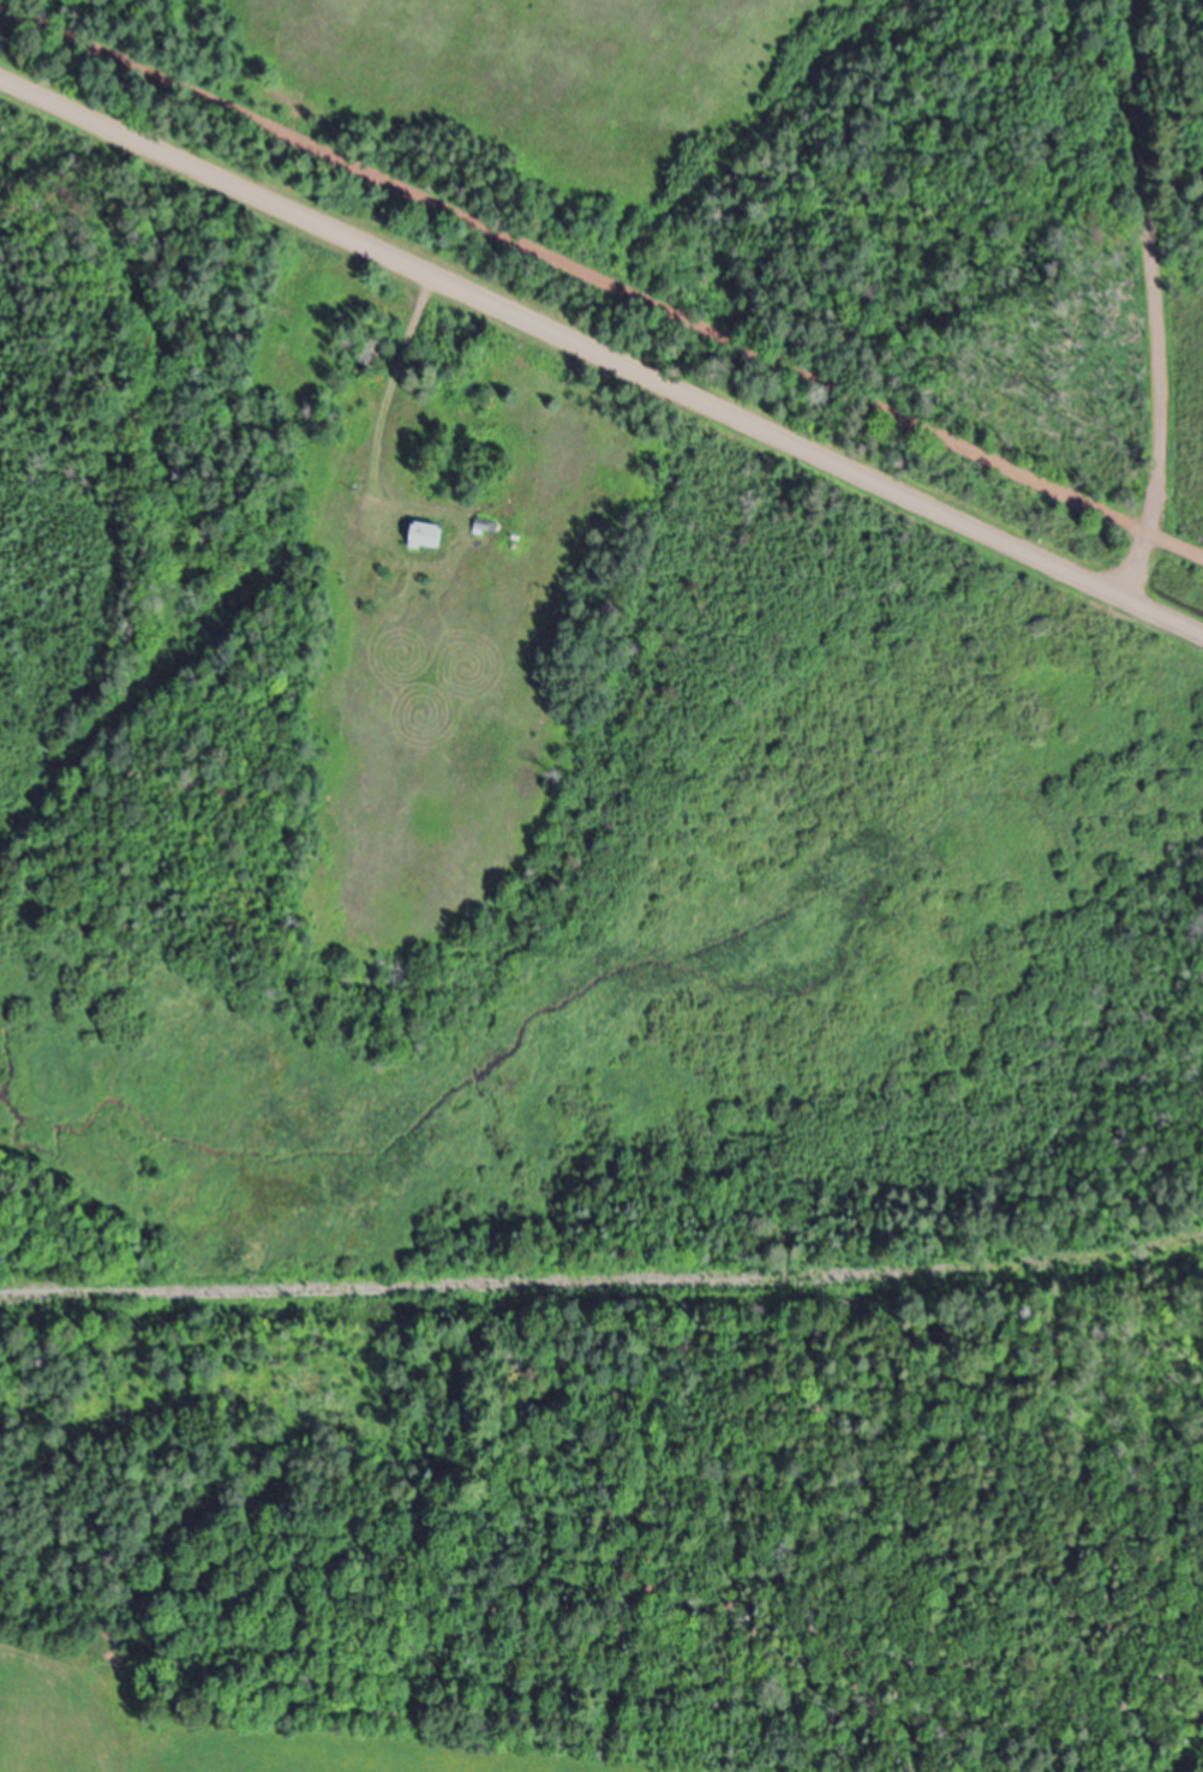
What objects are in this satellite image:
road: (600, 281)
road: (1154, 301)
road: (600, 355)
building: (433, 538)
railway: (603, 1282)

